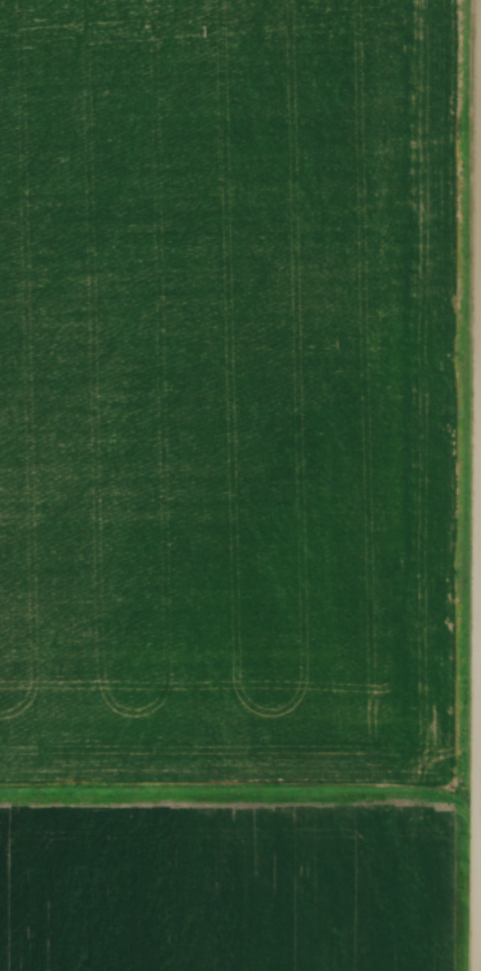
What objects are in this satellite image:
road: (478, 485)

